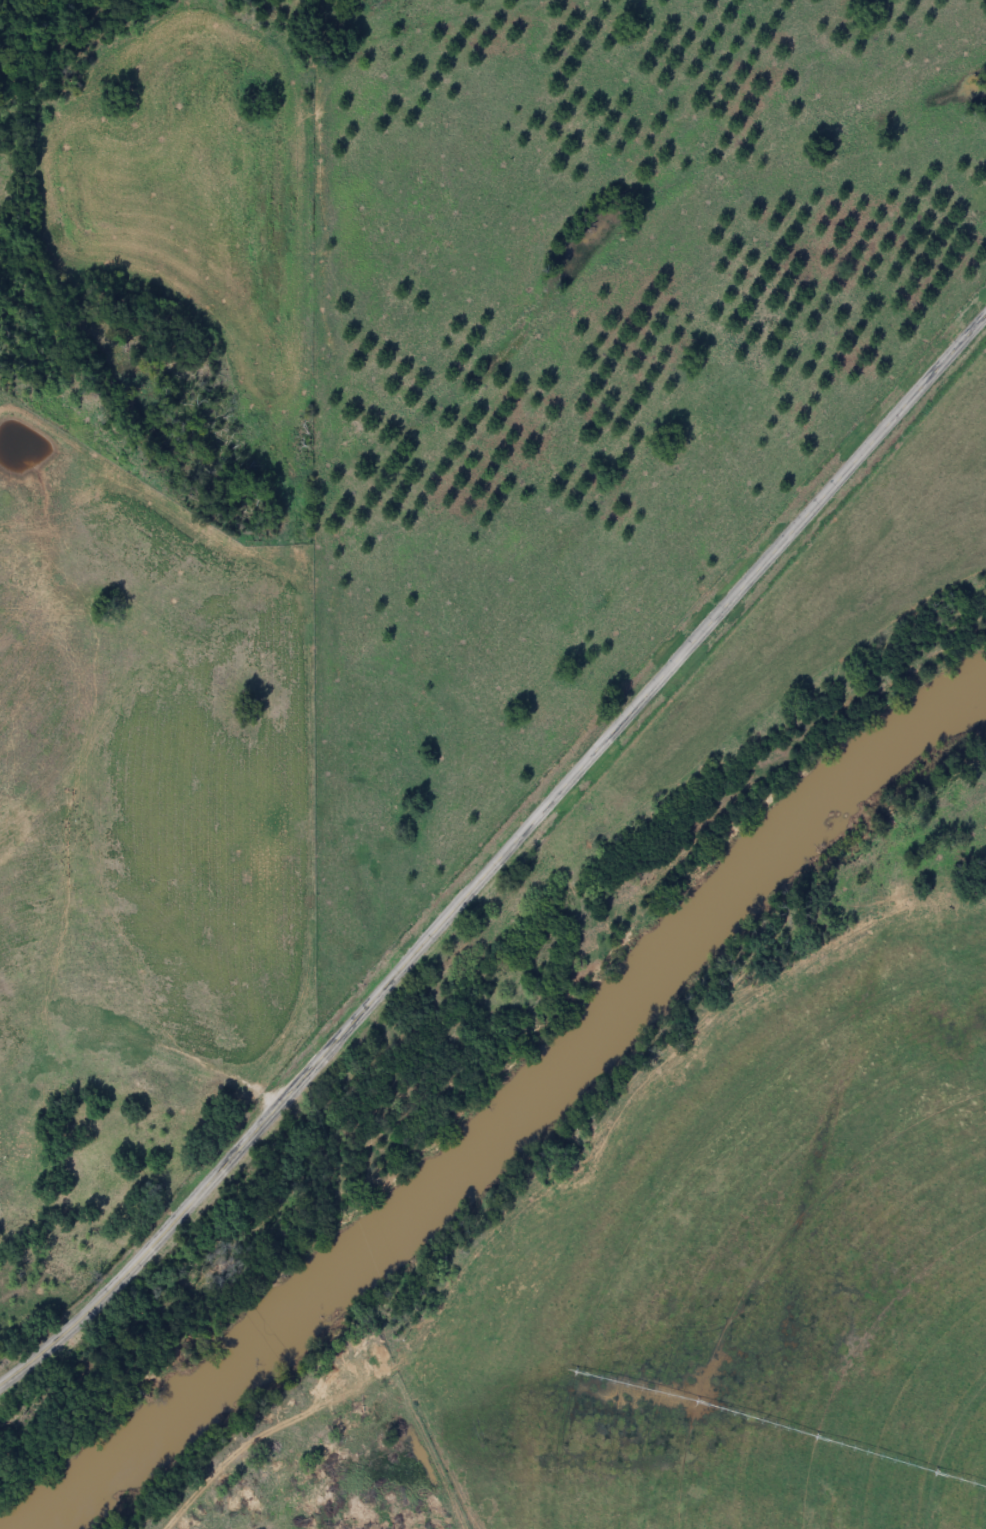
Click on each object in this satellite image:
road: (500, 860)
river: (514, 1113)

